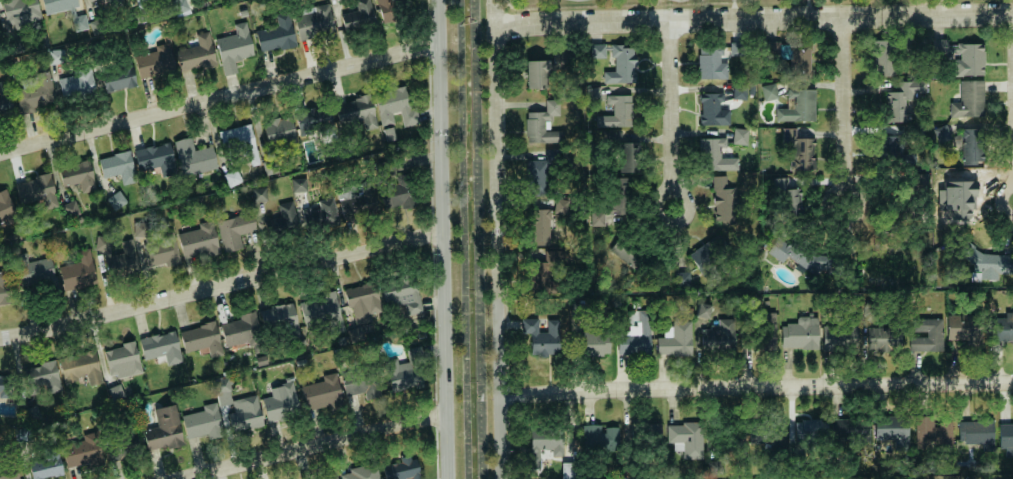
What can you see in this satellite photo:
building: (91, 0)
building: (115, 1)
street lamp: (971, 1)
building: (58, 4)
building: (179, 6)
street lamp: (670, 6)
road: (938, 7)
road: (809, 8)
park: (728, 9)
road: (734, 9)
building: (389, 10)
road: (496, 10)
building: (17, 15)
building: (359, 16)
road: (492, 17)
road: (754, 18)
building: (80, 22)
building: (314, 23)
building: (97, 26)
building: (276, 35)
building: (234, 48)
building: (772, 48)
building: (737, 49)
building: (598, 51)
building: (196, 54)
building: (56, 56)
building: (883, 57)
building: (968, 59)
building: (561, 60)
building: (800, 61)
building: (155, 62)
building: (712, 64)
building: (621, 65)
building: (537, 74)
building: (118, 78)
building: (77, 85)
building: (740, 92)
building: (769, 92)
building: (593, 94)
building: (26, 95)
road: (220, 98)
building: (903, 99)
building: (969, 100)
building: (798, 106)
building: (395, 107)
building: (713, 110)
road: (847, 110)
building: (356, 112)
building: (619, 113)
road: (674, 114)
building: (314, 118)
building: (543, 125)
building: (278, 129)
building: (940, 134)
building: (740, 136)
building: (241, 142)
building: (891, 146)
building: (972, 146)
building: (799, 150)
building: (717, 155)
building: (631, 157)
building: (156, 158)
building: (194, 158)
building: (118, 167)
building: (541, 175)
building: (78, 176)
building: (232, 178)
building: (299, 185)
building: (405, 188)
building: (35, 189)
building: (260, 194)
building: (788, 196)
building: (116, 200)
building: (355, 200)
building: (724, 201)
building: (6, 208)
building: (70, 209)
building: (612, 209)
building: (322, 213)
building: (287, 214)
building: (540, 227)
building: (235, 230)
road: (444, 239)
building: (199, 242)
road: (500, 251)
building: (167, 254)
building: (117, 257)
building: (707, 257)
building: (801, 257)
building: (34, 271)
building: (79, 271)
building: (544, 271)
road: (222, 286)
building: (4, 288)
building: (402, 294)
building: (363, 302)
building: (579, 310)
building: (703, 310)
building: (322, 312)
building: (278, 316)
building: (1003, 325)
building: (963, 328)
building: (240, 330)
building: (765, 331)
building: (801, 333)
building: (355, 334)
building: (636, 334)
building: (926, 335)
building: (719, 336)
building: (542, 337)
building: (839, 337)
building: (884, 338)
building: (202, 339)
building: (676, 339)
building: (593, 344)
building: (162, 348)
building: (123, 360)
building: (81, 367)
building: (406, 371)
building: (43, 376)
building: (361, 381)
building: (5, 385)
road: (756, 386)
building: (223, 392)
building: (323, 393)
building: (280, 402)
building: (245, 413)
building: (203, 422)
building: (164, 430)
building: (893, 430)
building: (767, 431)
building: (977, 433)
building: (860, 434)
building: (934, 434)
building: (600, 437)
building: (687, 438)
building: (1006, 438)
building: (547, 441)
road: (314, 447)
building: (82, 451)
building: (47, 464)
building: (402, 469)
building: (568, 470)
building: (8, 471)
building: (361, 473)
building: (335, 478)

